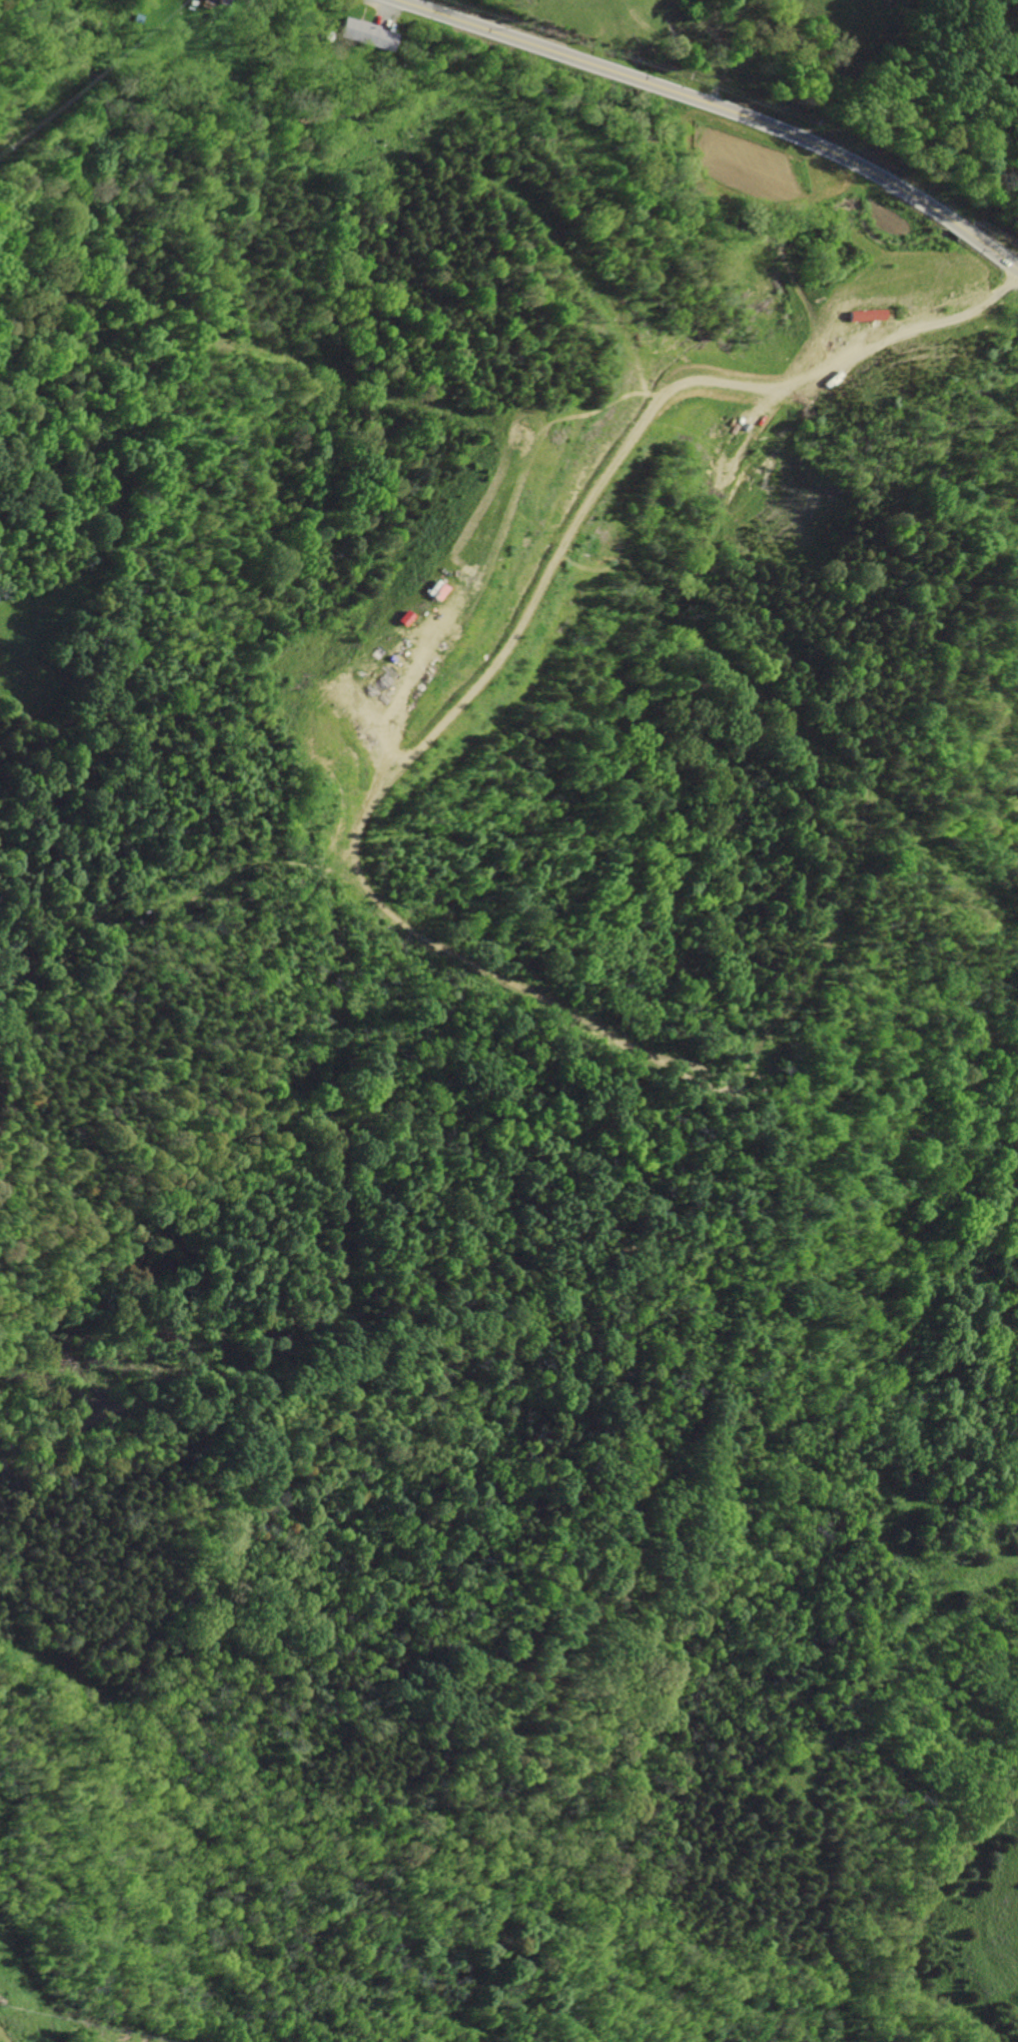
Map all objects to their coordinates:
building: (364, 35)
road: (721, 107)
building: (865, 315)
road: (646, 402)

